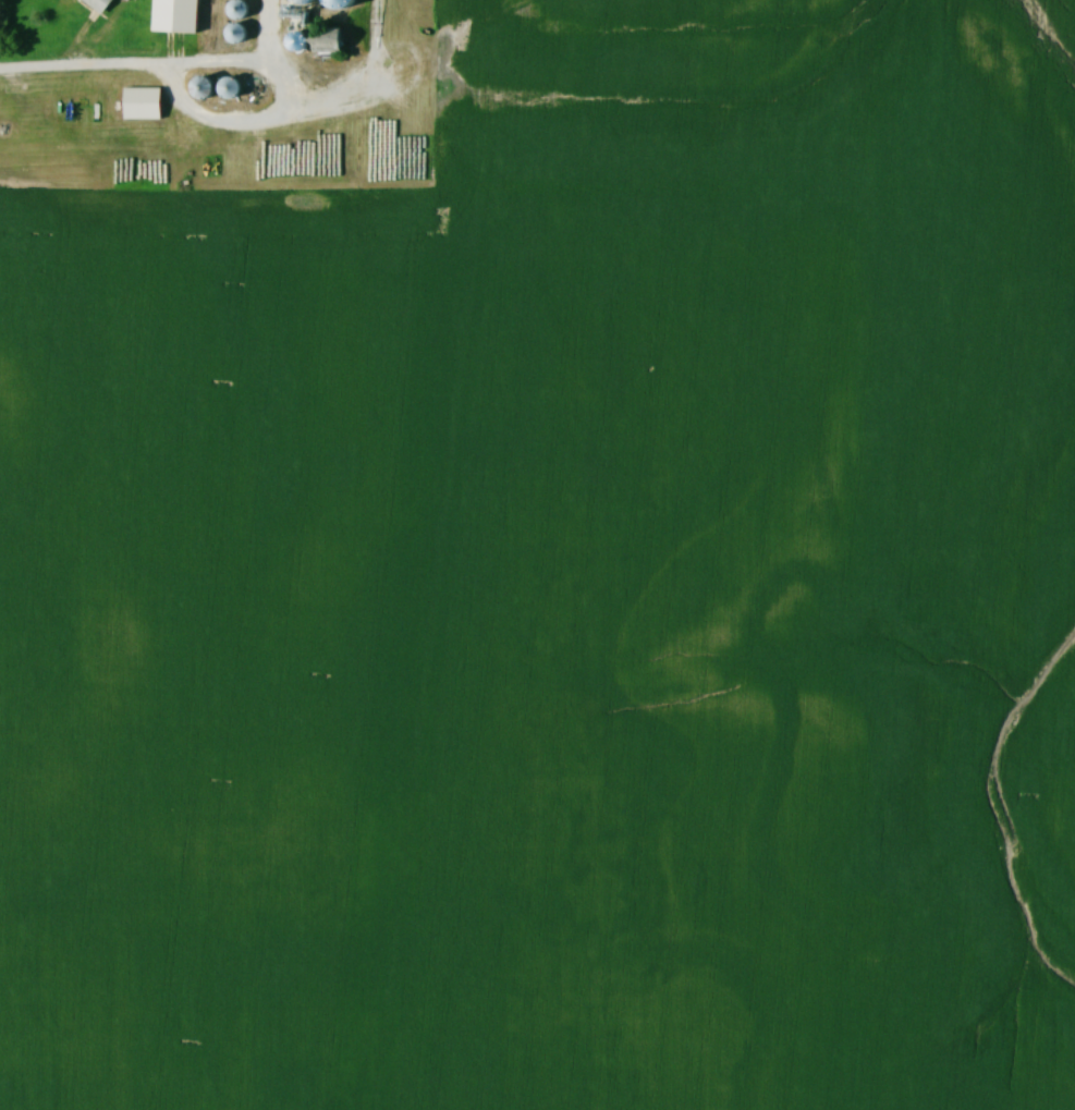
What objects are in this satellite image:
building: (100, 4)
building: (240, 10)
building: (178, 16)
building: (237, 35)
building: (328, 41)
building: (204, 89)
building: (230, 89)
building: (144, 103)

